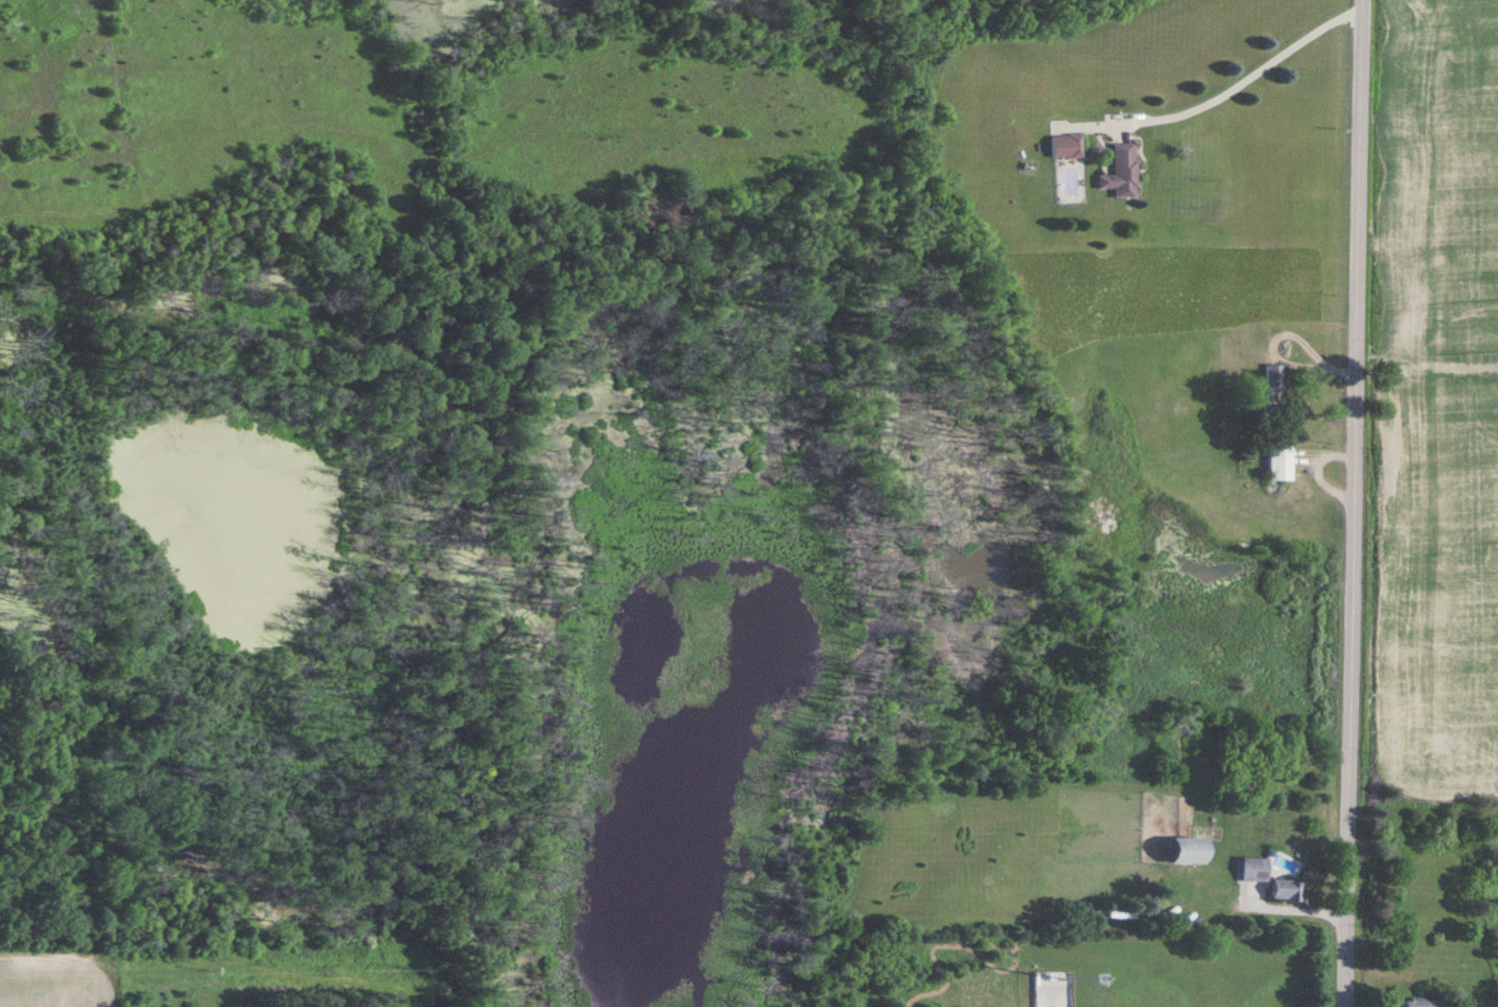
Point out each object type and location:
road: (1255, 74)
building: (1067, 146)
building: (1122, 172)
building: (1275, 383)
building: (1281, 463)
road: (1354, 503)
building: (1189, 852)
building: (1255, 870)
building: (1289, 891)
road: (1295, 906)
building: (1423, 1002)

